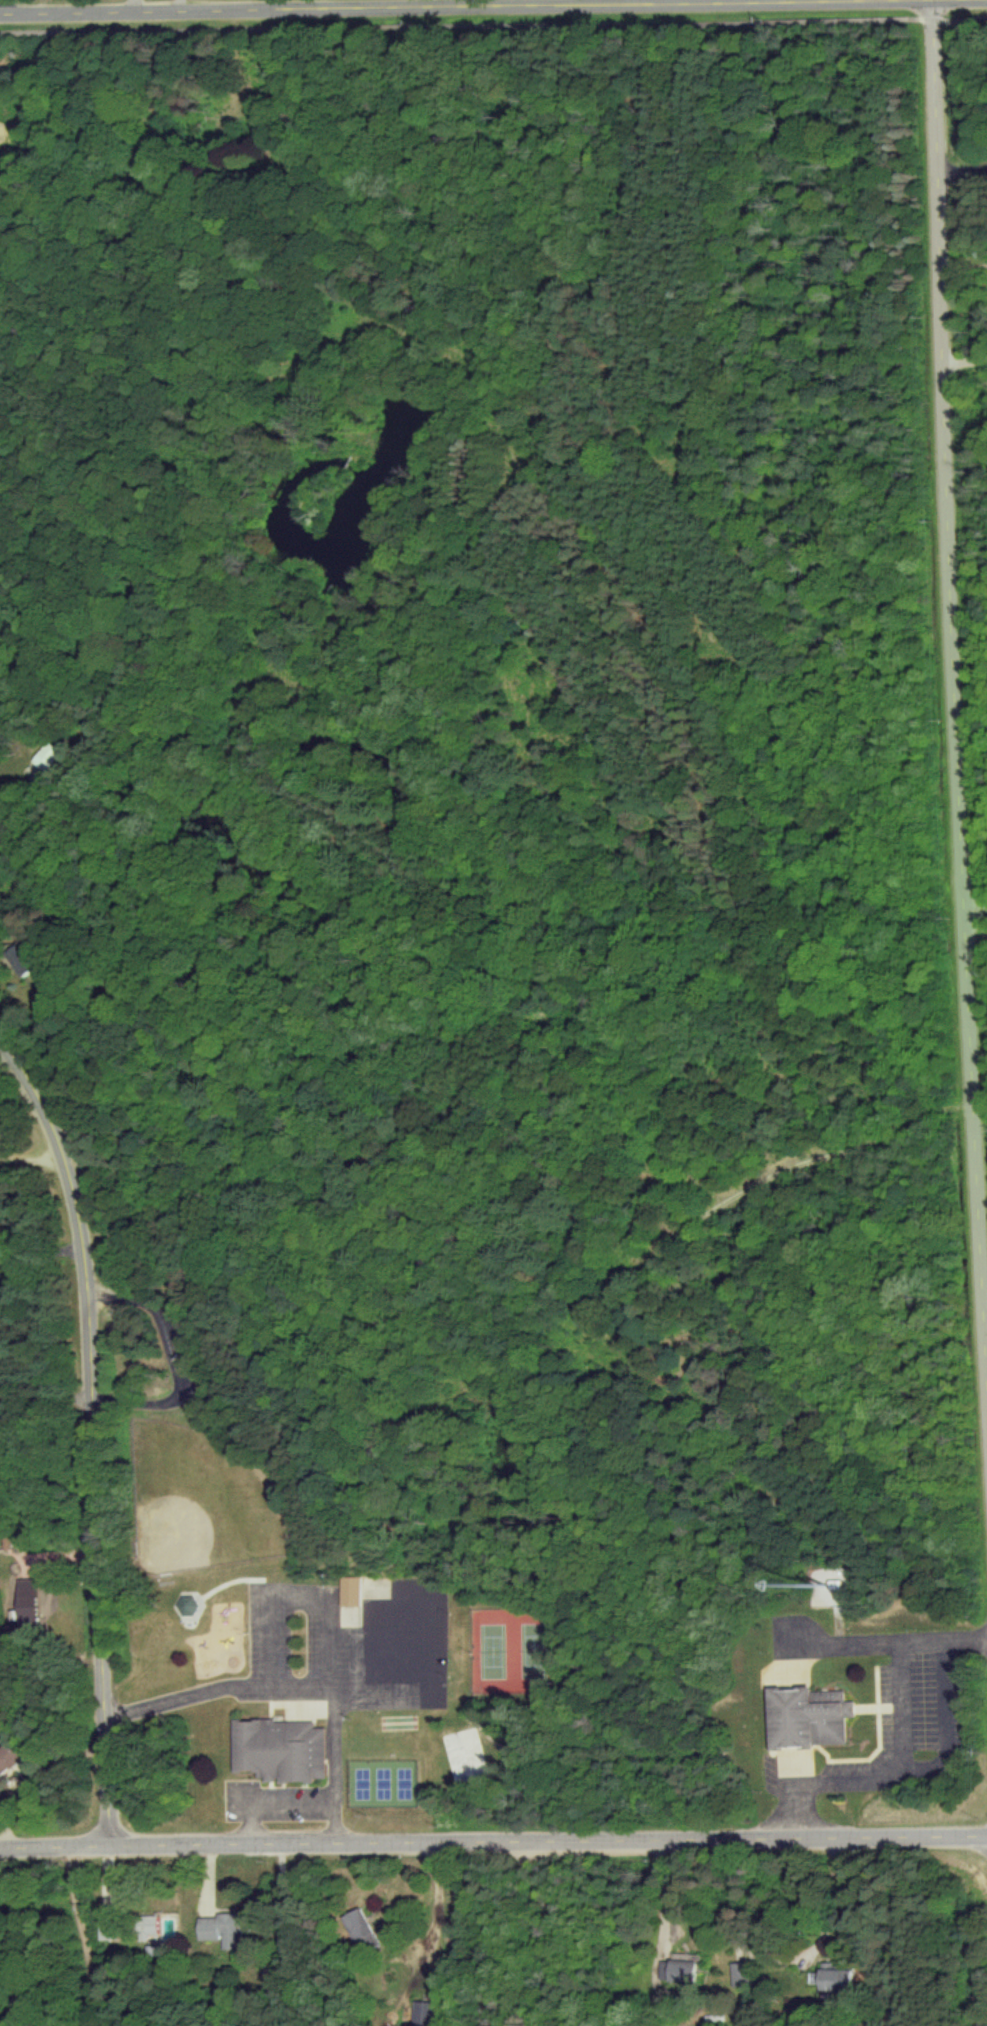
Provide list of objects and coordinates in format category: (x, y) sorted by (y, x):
road: (132, 5)
road: (178, 5)
road: (465, 6)
road: (493, 24)
road: (963, 268)
road: (964, 358)
road: (948, 726)
road: (13, 791)
road: (969, 901)
road: (970, 928)
building: (24, 959)
road: (2, 1050)
road: (31, 1159)
road: (91, 1434)
road: (29, 1551)
building: (348, 1591)
building: (25, 1601)
building: (184, 1605)
road: (426, 1615)
road: (861, 1641)
road: (291, 1687)
road: (897, 1706)
building: (804, 1717)
building: (278, 1750)
building: (9, 1756)
road: (926, 1768)
road: (269, 1801)
road: (493, 1841)
road: (726, 1897)
road: (829, 1897)
road: (651, 1909)
road: (438, 1918)
building: (145, 1927)
building: (222, 1929)
building: (361, 1929)
road: (79, 1935)
road: (520, 1937)
building: (675, 1971)
building: (738, 1973)
building: (833, 1979)
building: (419, 2013)

